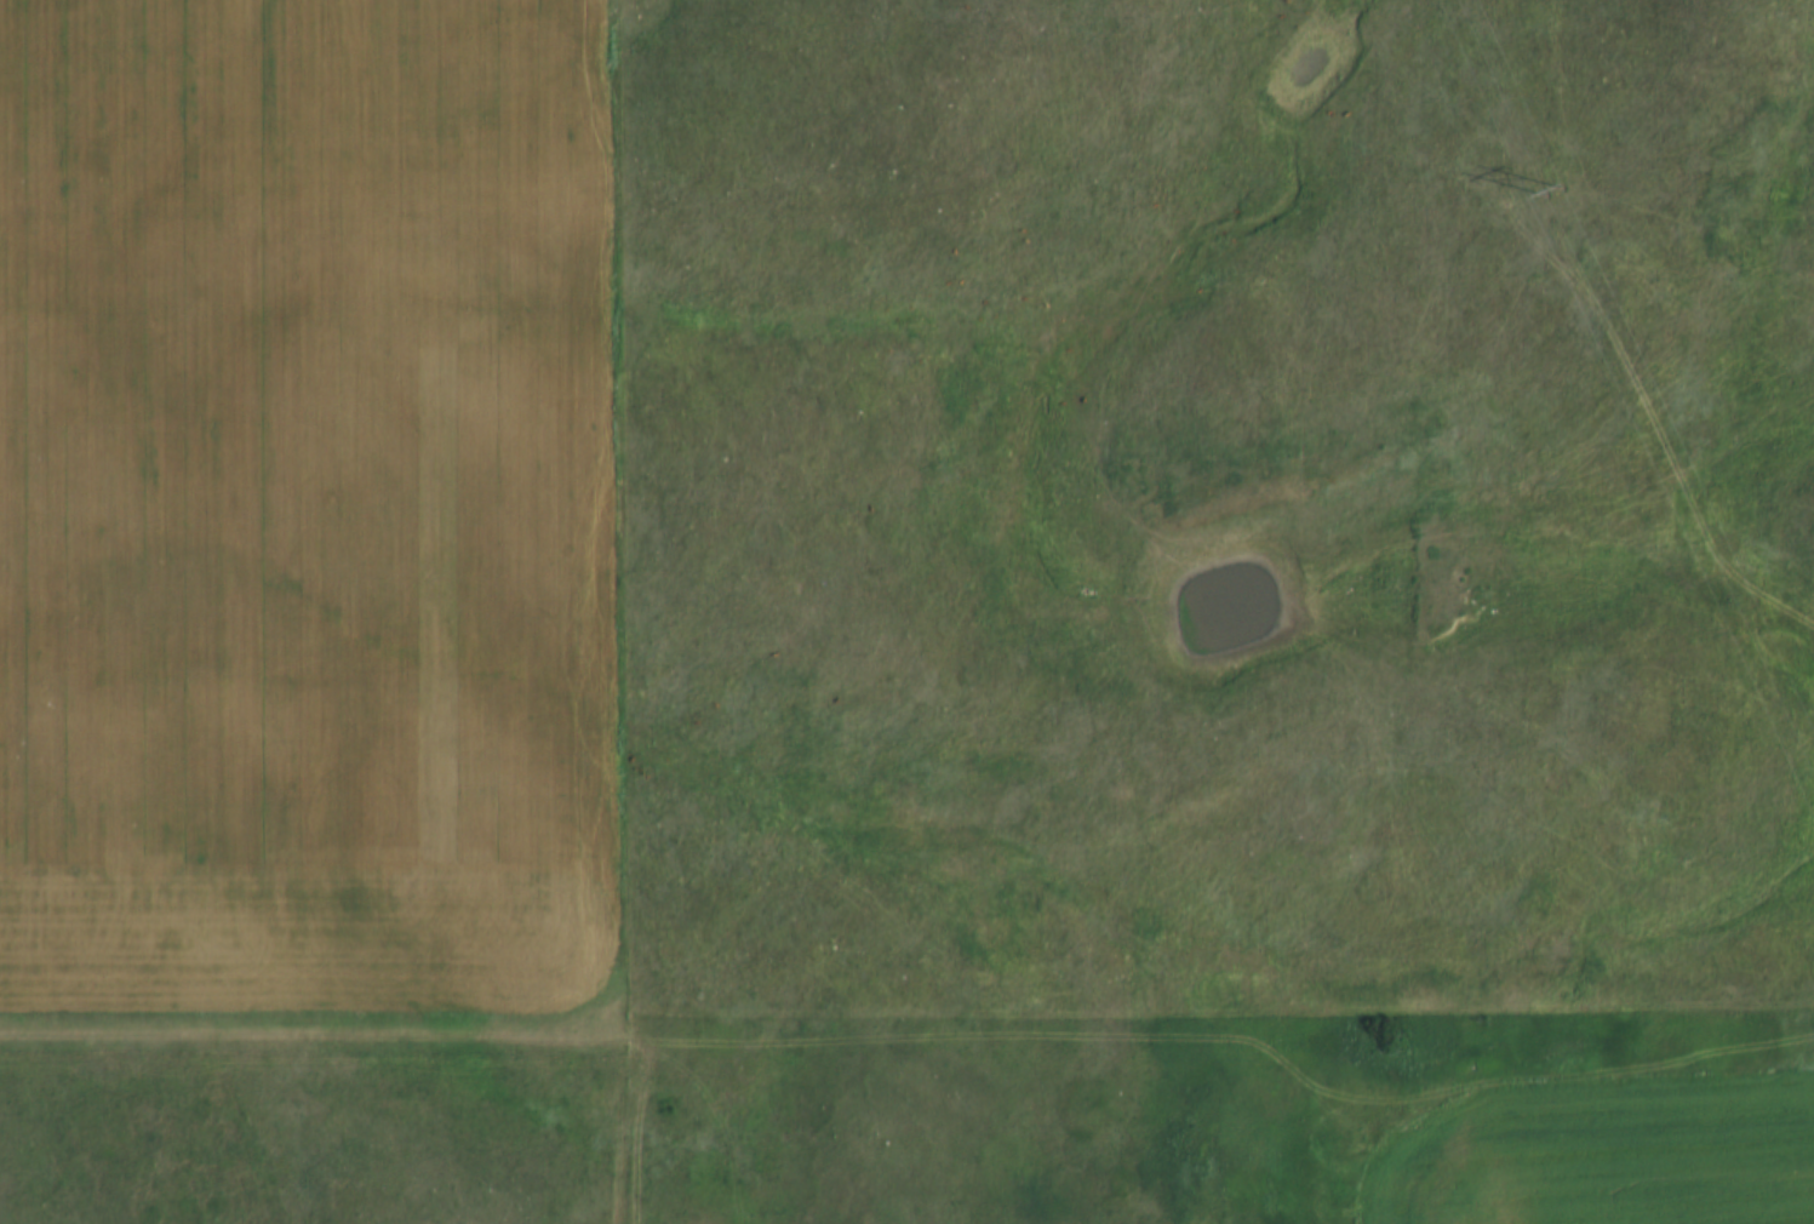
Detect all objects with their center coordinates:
power tower: (1529, 194)

